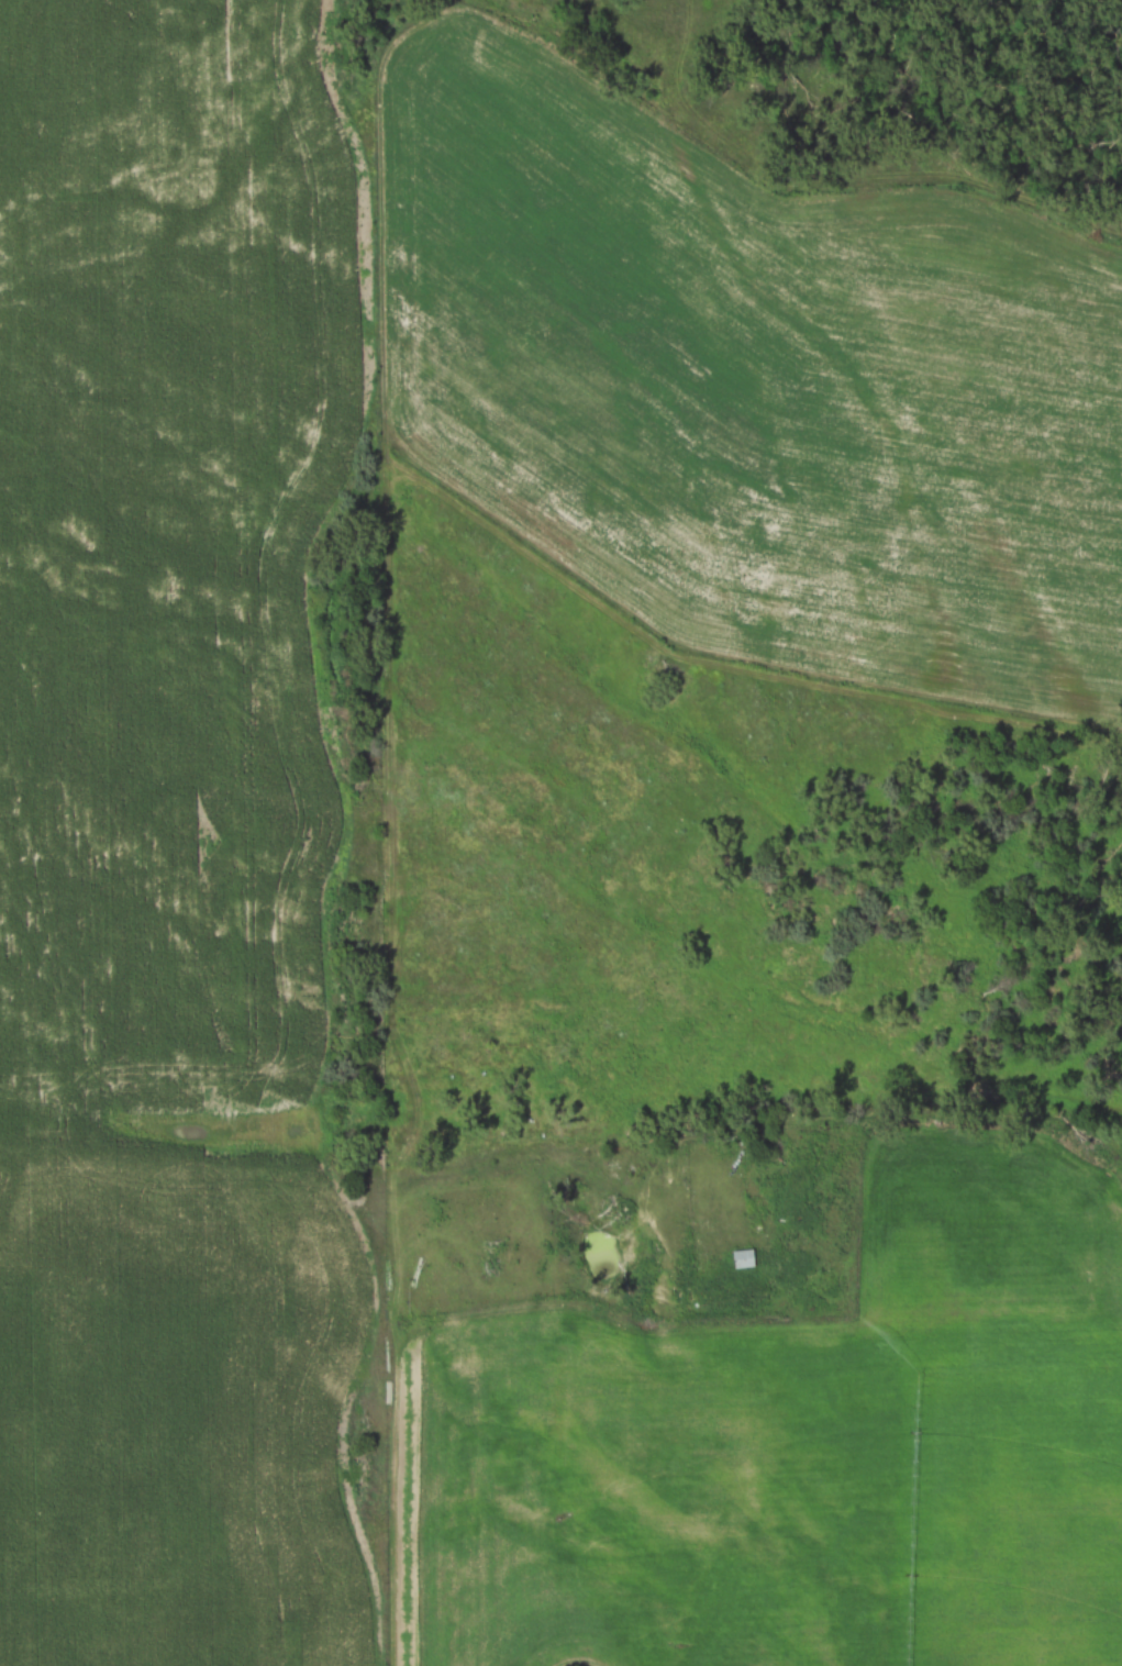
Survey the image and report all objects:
building: (740, 1259)

